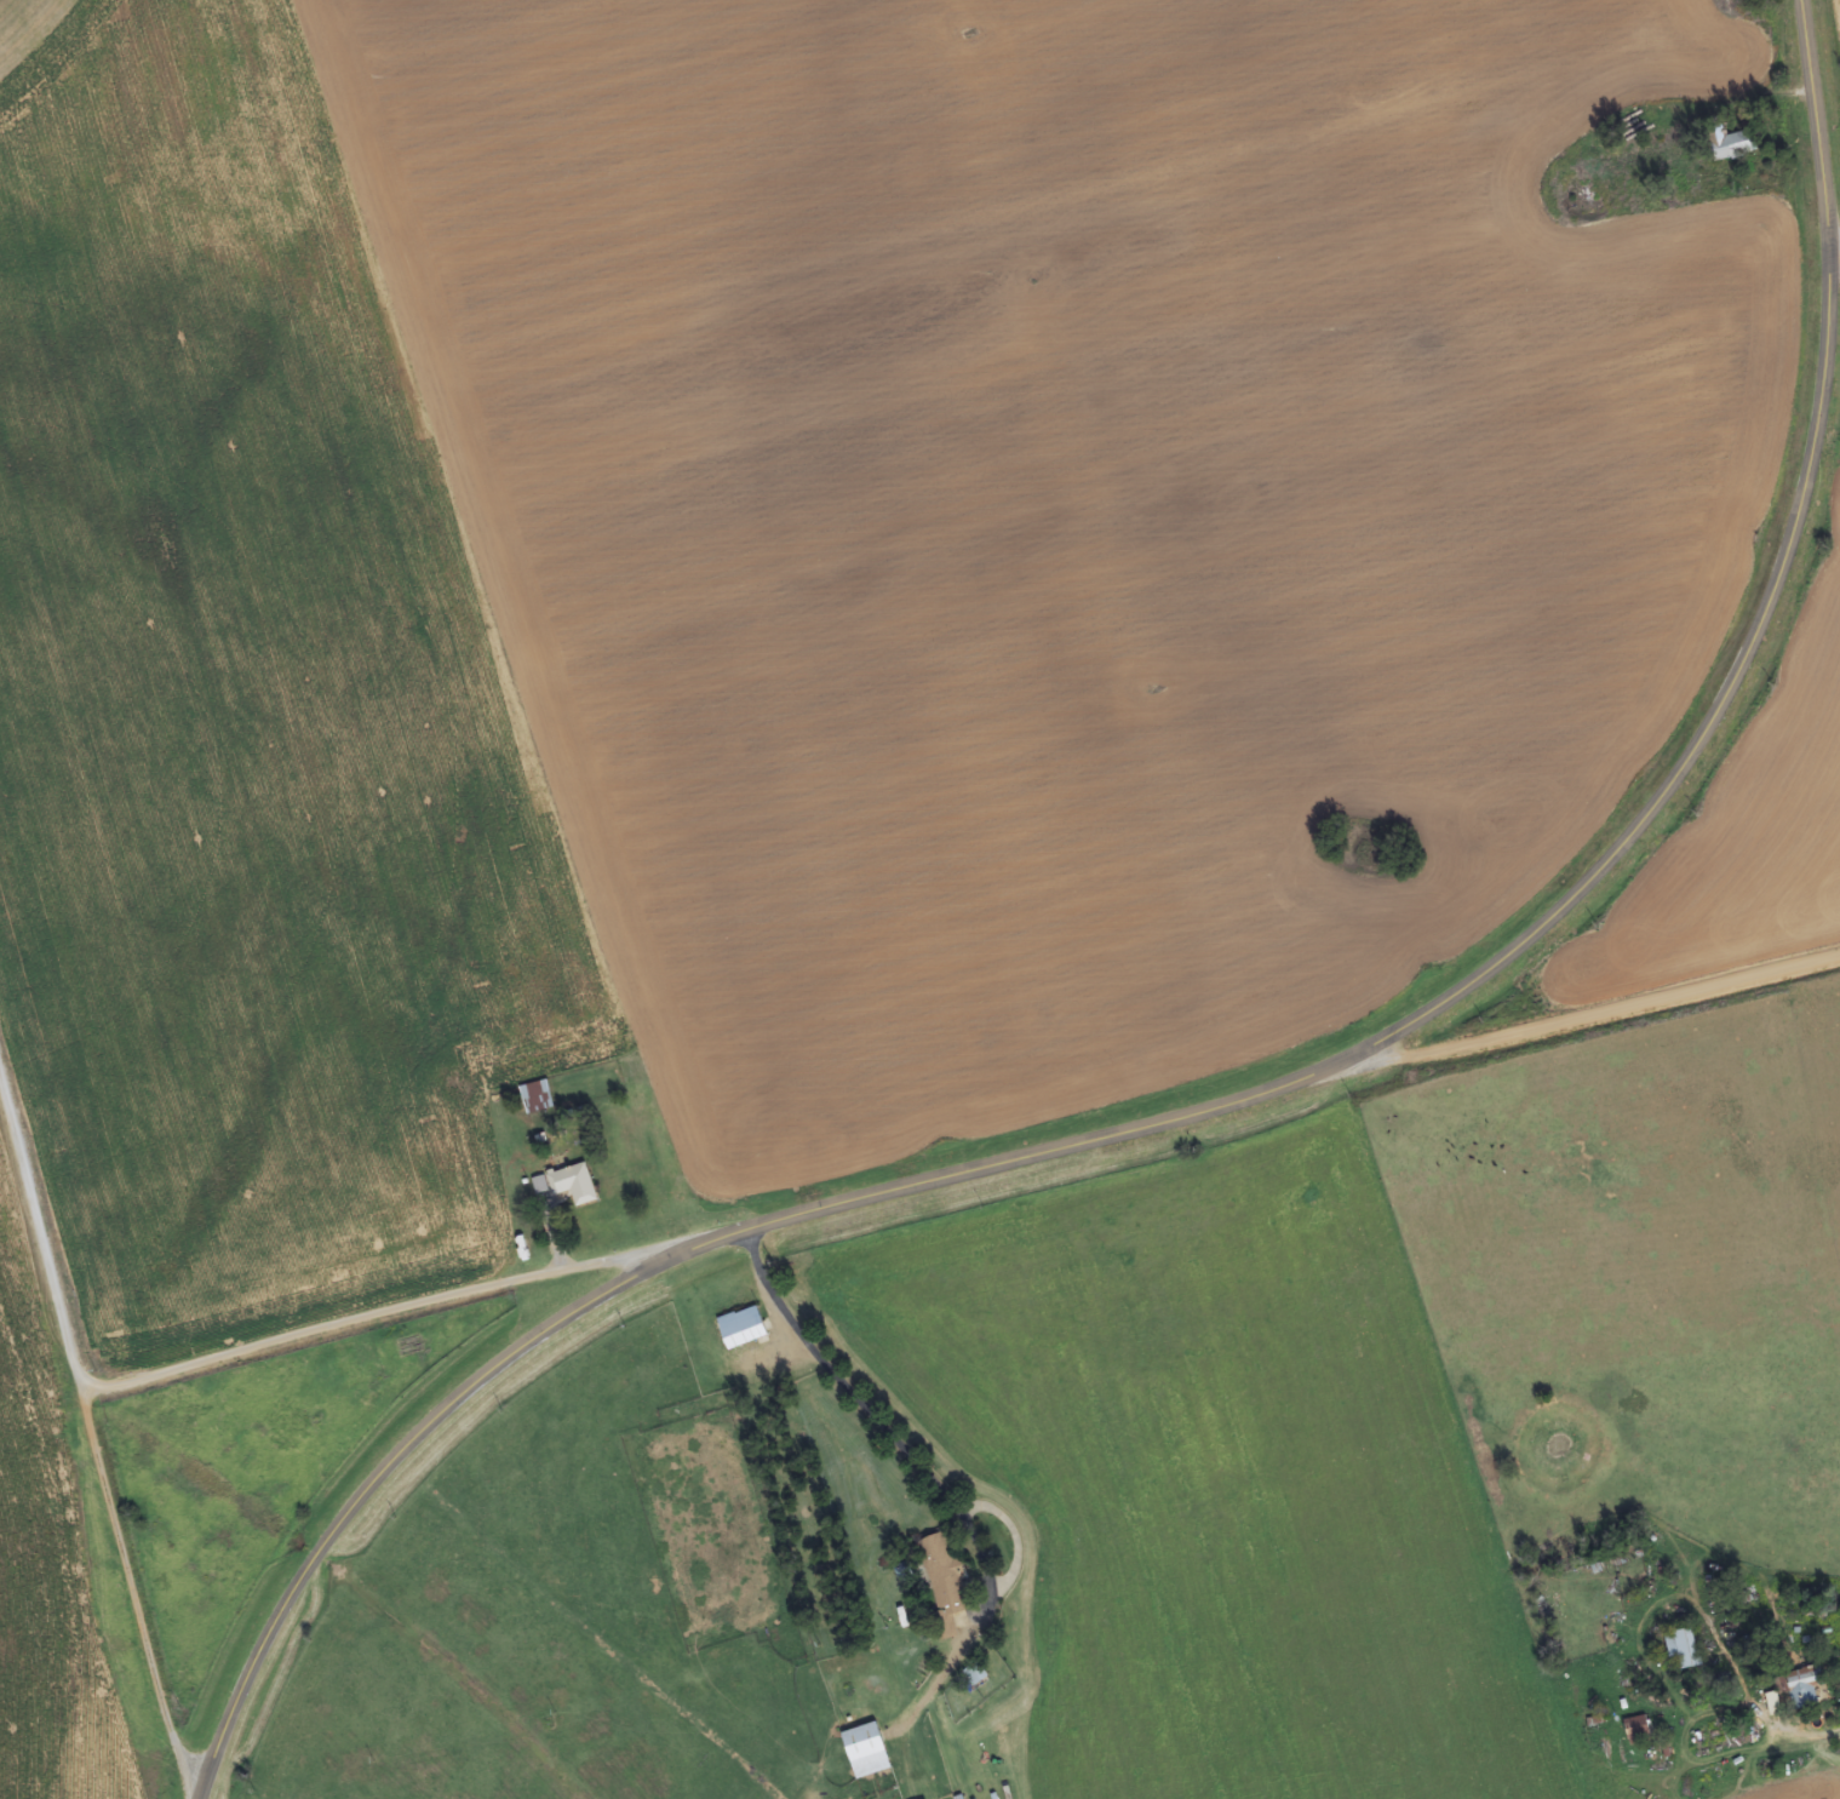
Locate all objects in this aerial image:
building: (1729, 144)
road: (1833, 233)
road: (1657, 962)
road: (1254, 1094)
building: (537, 1099)
building: (574, 1185)
building: (743, 1328)
road: (124, 1403)
road: (936, 1451)
building: (945, 1575)
building: (1683, 1651)
road: (1801, 1685)
building: (1798, 1690)
building: (1638, 1730)
building: (866, 1752)

